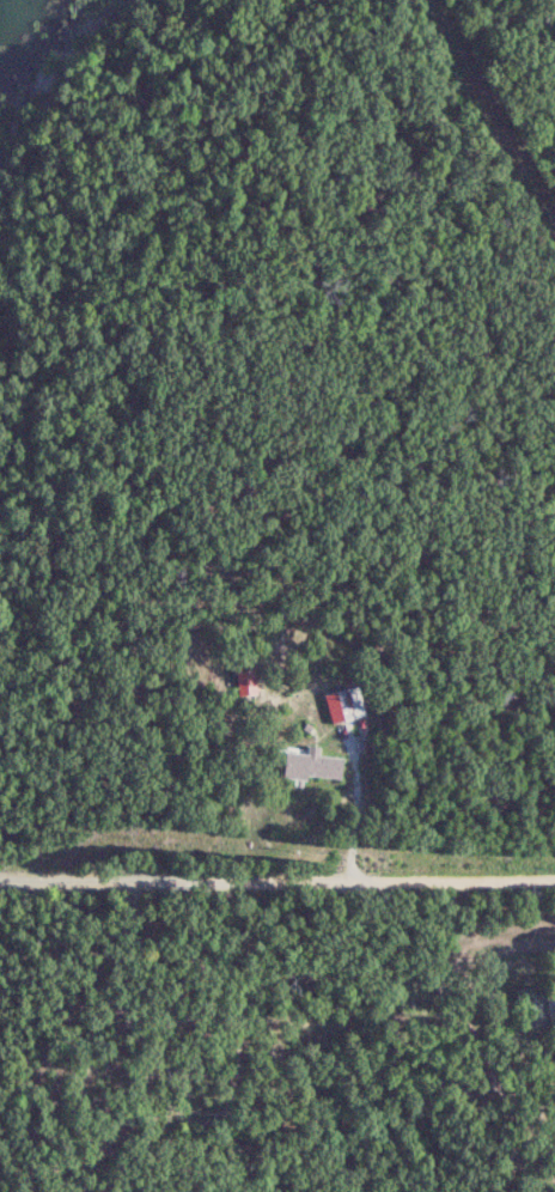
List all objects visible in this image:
building: (242, 688)
building: (331, 704)
building: (301, 764)
road: (276, 877)
building: (551, 1066)

